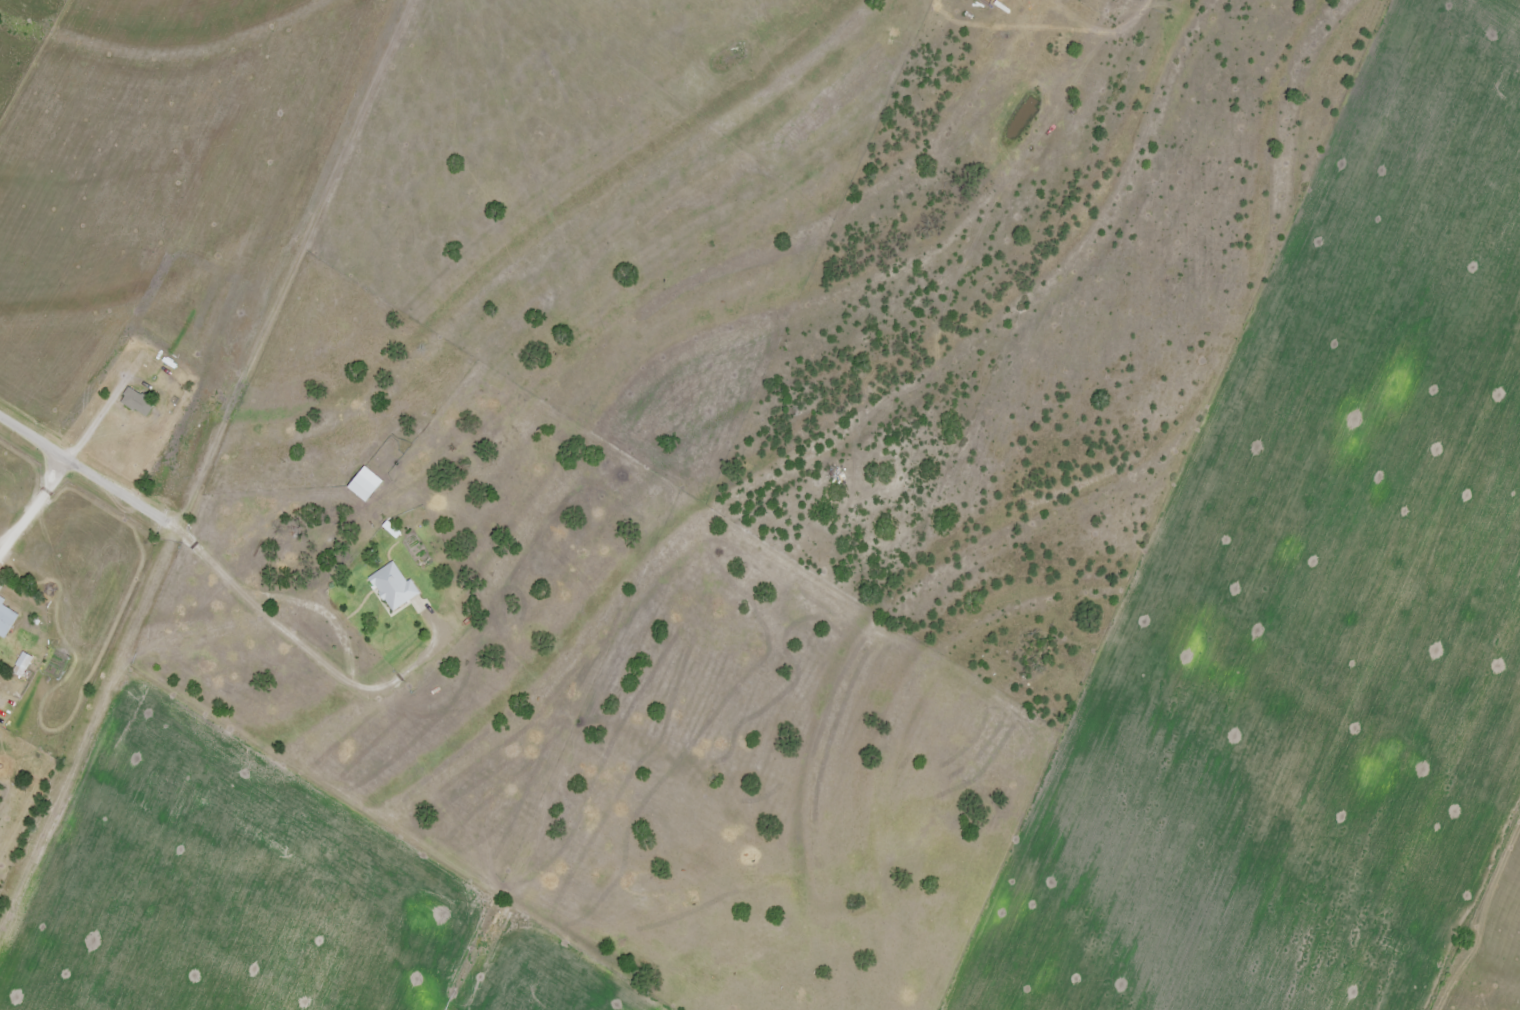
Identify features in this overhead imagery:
building: (136, 402)
road: (91, 475)
road: (33, 508)
building: (6, 619)

